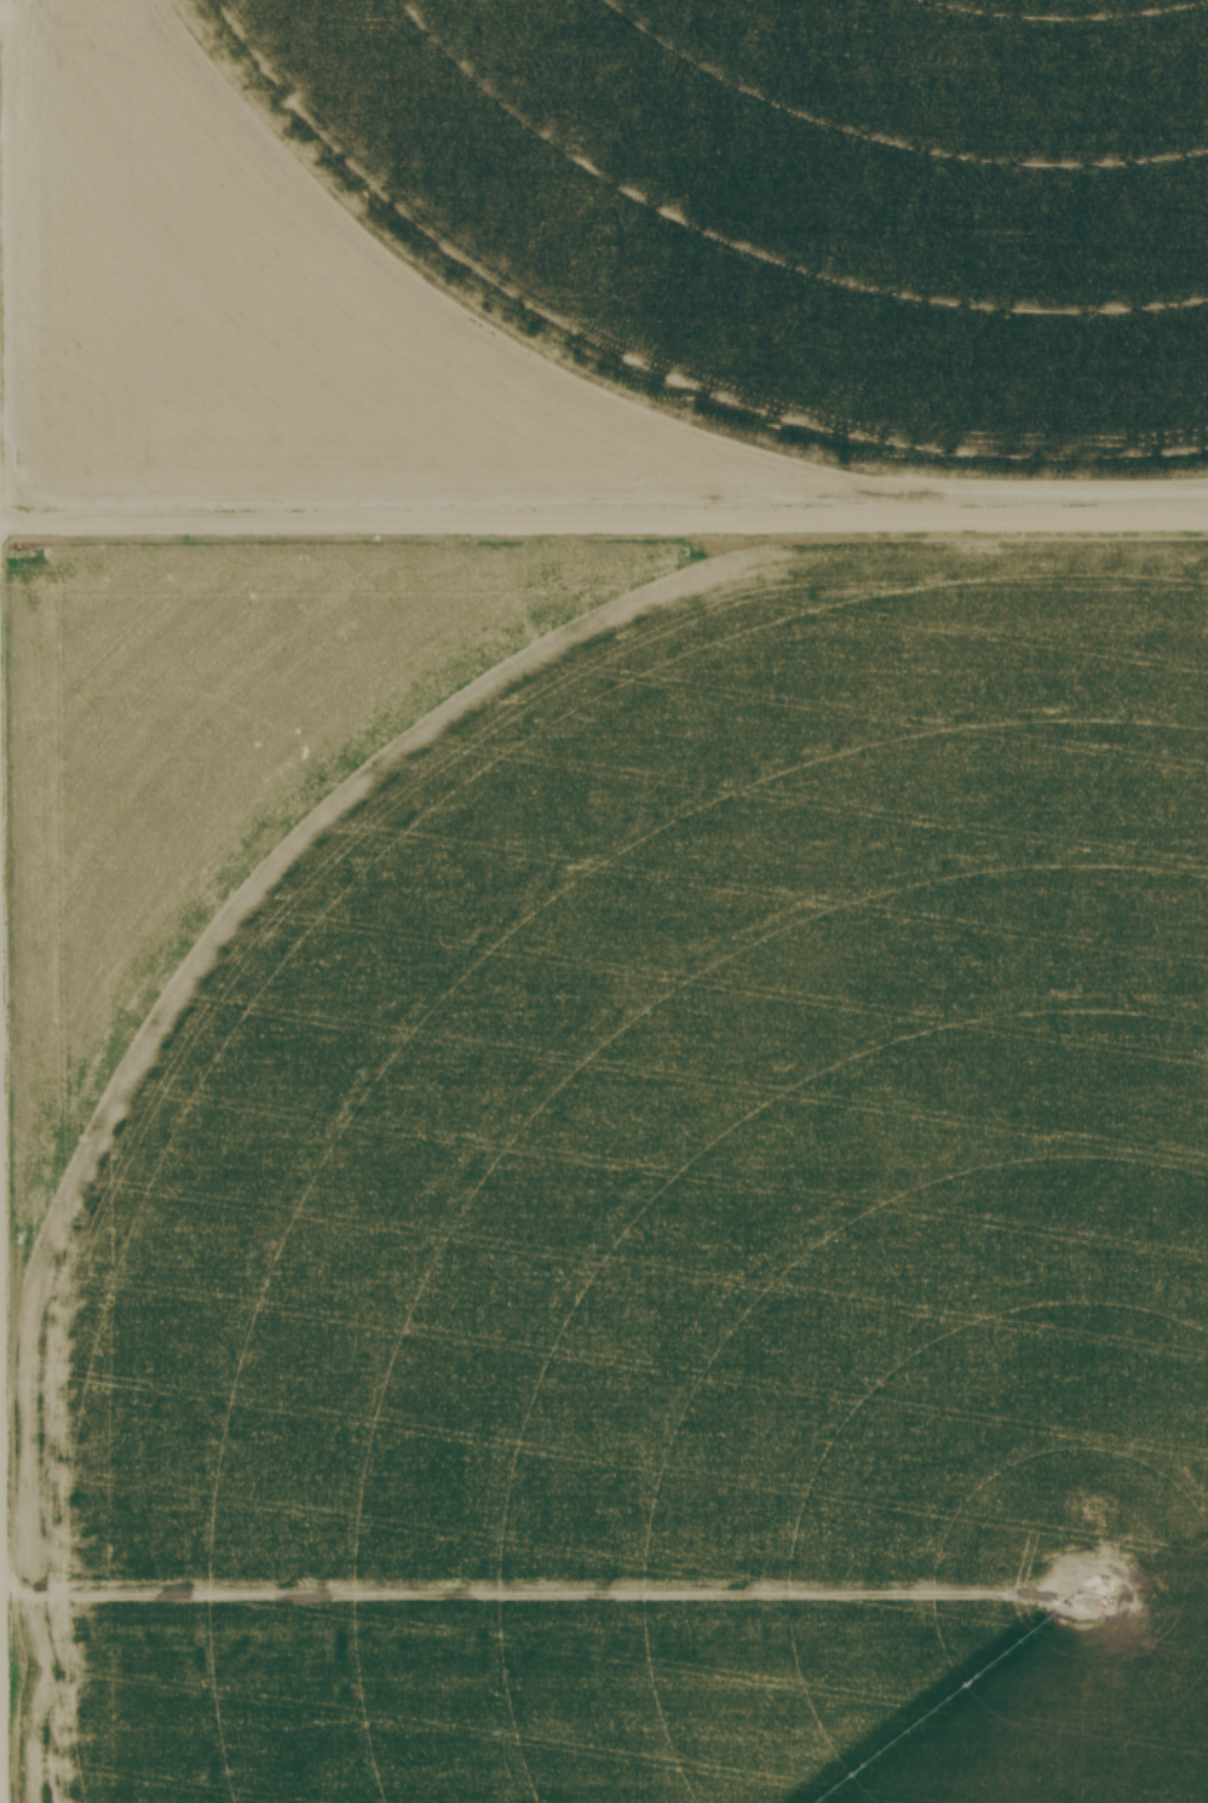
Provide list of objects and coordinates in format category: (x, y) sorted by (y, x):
road: (603, 523)
road: (0, 1554)
road: (1, 1569)

